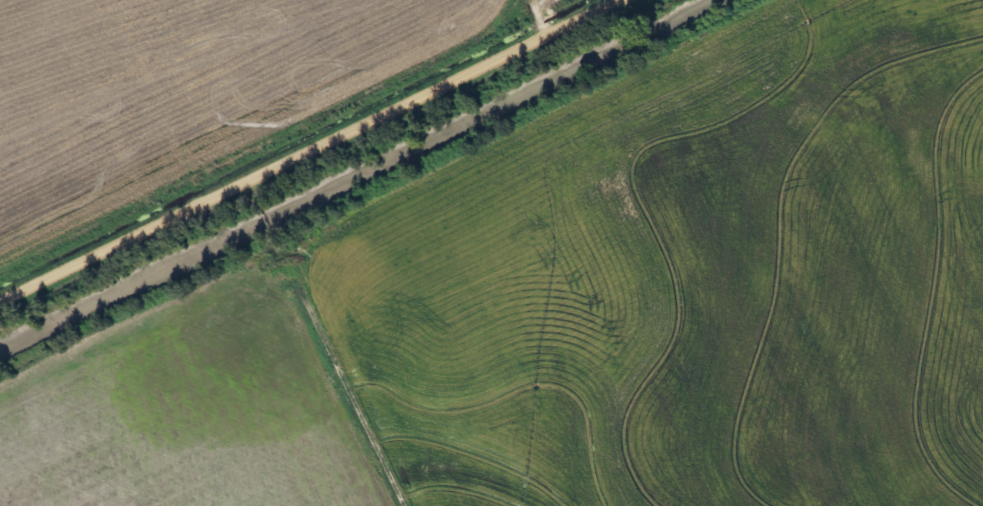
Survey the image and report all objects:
road: (532, 3)
road: (536, 15)
road: (307, 151)

